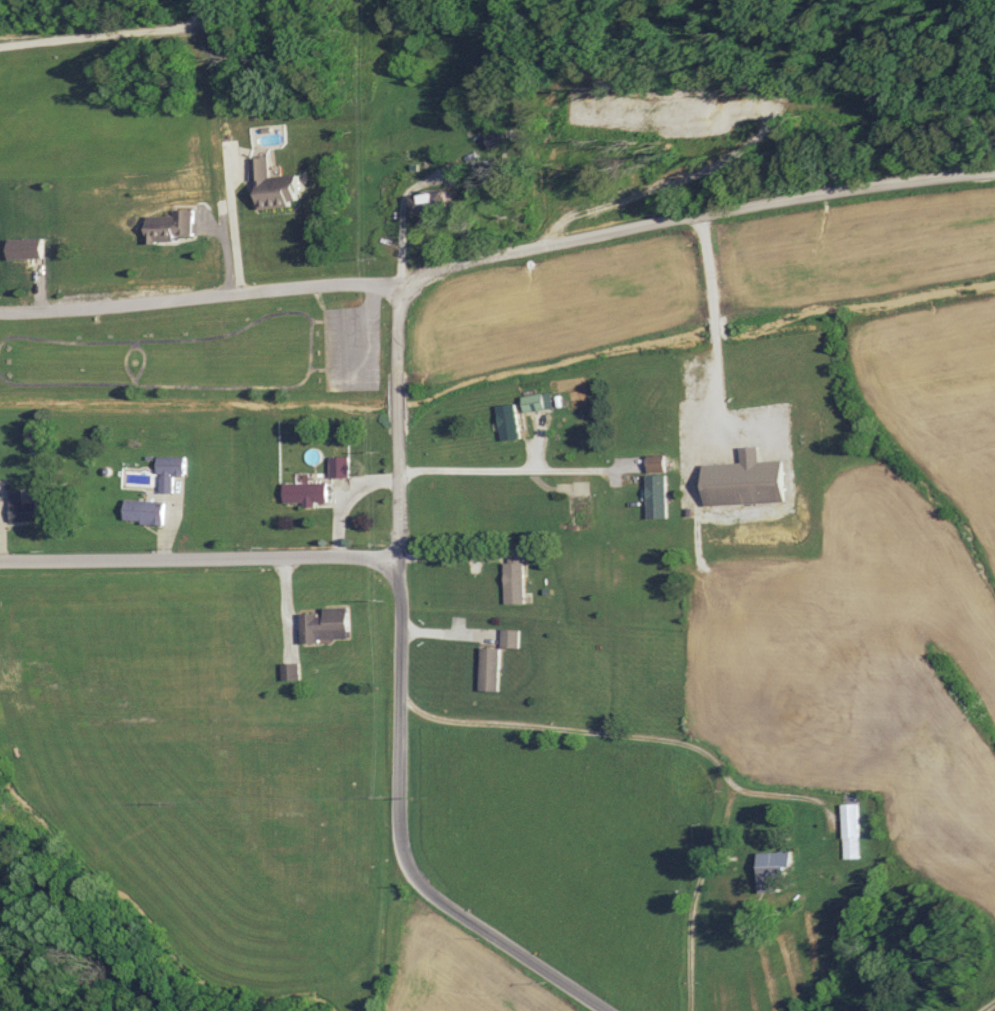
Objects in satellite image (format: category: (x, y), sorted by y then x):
road: (107, 32)
building: (496, 139)
building: (281, 185)
road: (694, 214)
building: (435, 217)
road: (230, 225)
building: (172, 227)
building: (31, 248)
road: (199, 297)
road: (311, 343)
parking lot: (351, 348)
road: (130, 349)
park: (205, 351)
building: (538, 403)
building: (510, 423)
building: (342, 467)
building: (172, 471)
building: (749, 482)
building: (659, 487)
building: (308, 493)
building: (24, 509)
building: (146, 512)
road: (400, 525)
road: (200, 559)
building: (516, 576)
building: (328, 625)
building: (512, 637)
building: (492, 668)
building: (761, 748)
building: (922, 755)
building: (853, 826)
building: (780, 869)
road: (463, 916)

